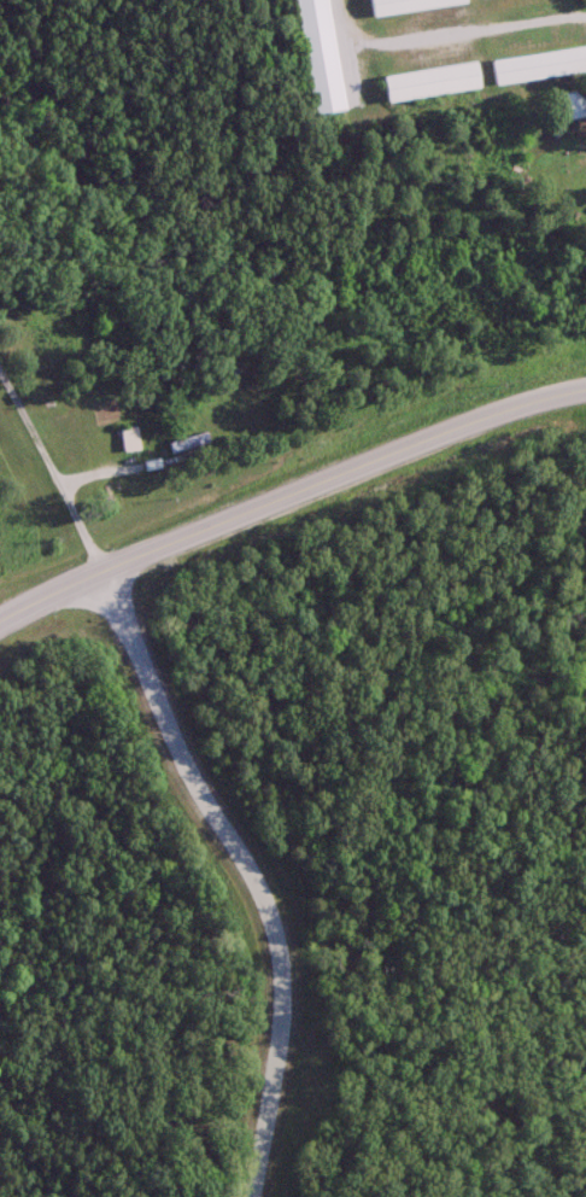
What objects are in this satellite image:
building: (408, 6)
building: (315, 57)
building: (538, 68)
building: (429, 84)
building: (574, 107)
road: (12, 186)
building: (129, 440)
building: (187, 445)
road: (54, 468)
road: (288, 495)
road: (248, 872)

